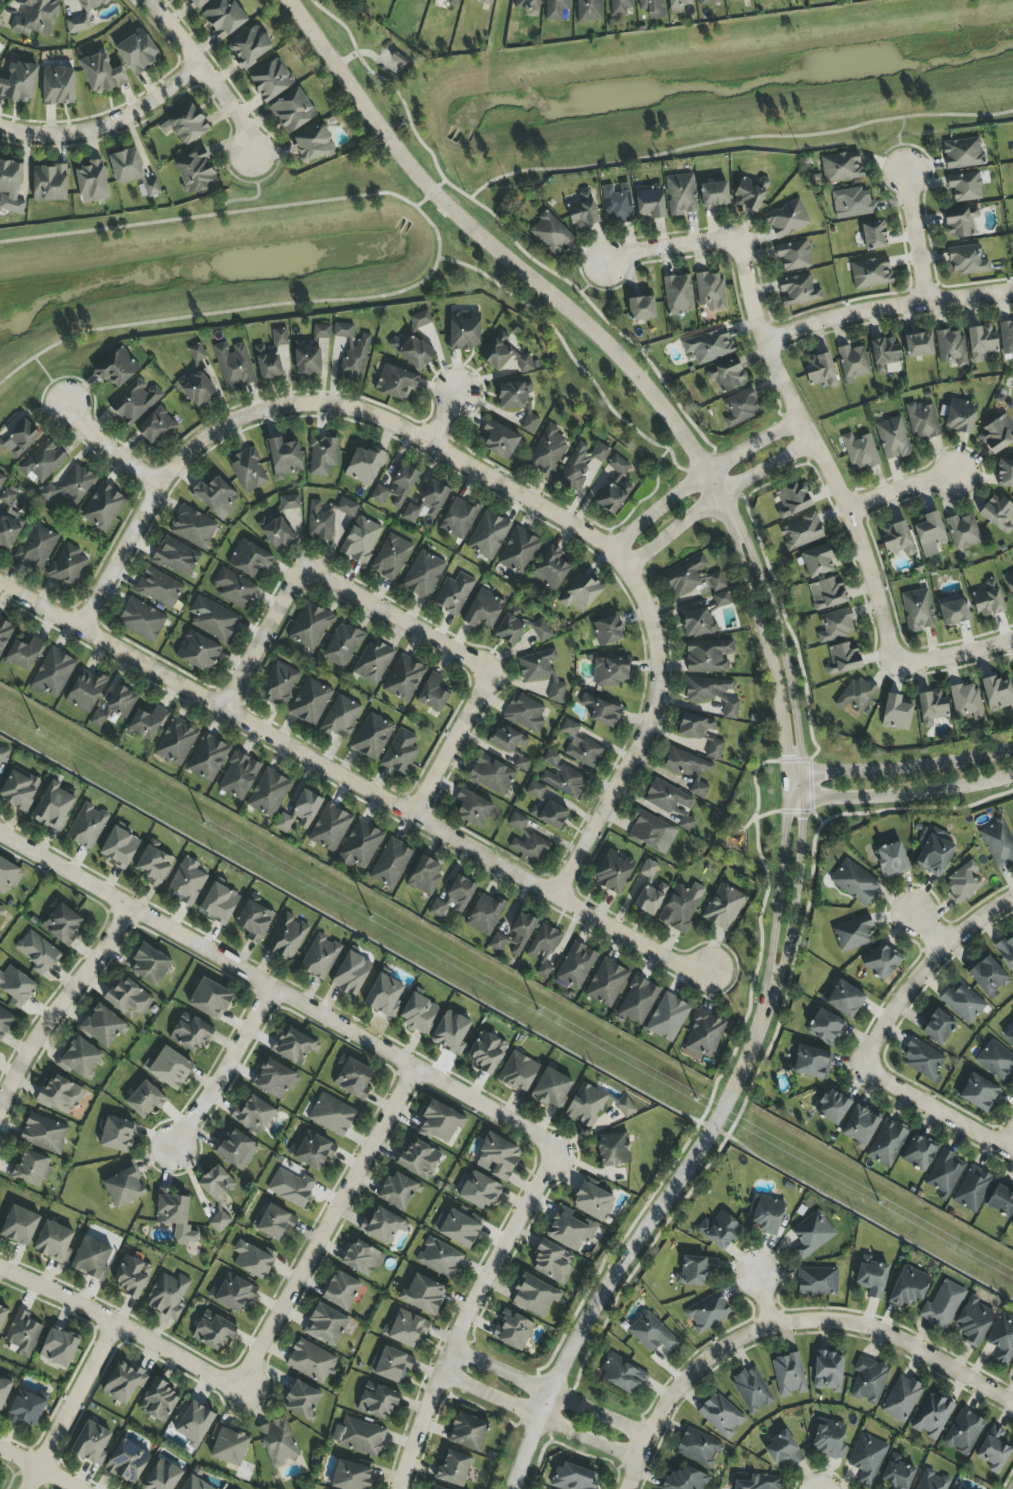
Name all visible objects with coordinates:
building: (731, 0)
building: (452, 1)
building: (485, 1)
building: (708, 2)
building: (196, 3)
building: (678, 5)
building: (528, 7)
building: (619, 8)
building: (652, 8)
building: (556, 9)
building: (589, 10)
building: (83, 16)
building: (35, 17)
building: (223, 18)
building: (249, 47)
building: (137, 52)
road: (367, 54)
road: (208, 72)
building: (101, 74)
building: (270, 80)
building: (18, 83)
building: (58, 86)
building: (292, 111)
road: (108, 123)
building: (185, 125)
road: (736, 139)
road: (897, 143)
building: (312, 144)
building: (963, 153)
building: (125, 166)
building: (841, 167)
building: (195, 173)
building: (91, 182)
building: (49, 183)
building: (11, 184)
building: (965, 187)
building: (151, 188)
road: (429, 194)
building: (681, 194)
building: (714, 194)
building: (748, 195)
road: (255, 198)
building: (650, 202)
building: (852, 203)
building: (617, 206)
building: (583, 211)
road: (208, 215)
building: (787, 219)
building: (959, 222)
building: (550, 233)
road: (913, 233)
building: (873, 235)
road: (508, 238)
road: (667, 248)
building: (793, 256)
building: (966, 260)
road: (510, 262)
building: (870, 273)
road: (590, 278)
building: (798, 290)
building: (710, 291)
building: (678, 294)
road: (887, 306)
building: (641, 308)
road: (248, 309)
building: (420, 319)
building: (464, 330)
building: (321, 331)
building: (1006, 337)
building: (980, 342)
building: (918, 345)
building: (709, 346)
building: (951, 347)
building: (352, 351)
building: (412, 351)
building: (497, 351)
building: (196, 352)
building: (884, 354)
building: (307, 357)
building: (524, 363)
road: (573, 363)
building: (852, 363)
building: (234, 365)
building: (116, 368)
building: (820, 370)
building: (727, 375)
road: (49, 379)
building: (395, 382)
building: (196, 388)
building: (513, 395)
building: (134, 401)
building: (740, 407)
building: (959, 416)
road: (443, 418)
building: (922, 421)
building: (529, 423)
building: (156, 427)
building: (997, 434)
road: (211, 436)
building: (892, 438)
building: (20, 439)
building: (498, 440)
road: (106, 450)
building: (547, 450)
road: (816, 452)
building: (860, 452)
building: (322, 455)
building: (284, 458)
building: (43, 462)
building: (581, 464)
building: (364, 465)
building: (248, 470)
building: (1004, 473)
road: (699, 479)
building: (1, 480)
building: (69, 486)
building: (614, 487)
building: (396, 488)
road: (902, 492)
road: (521, 493)
building: (215, 497)
building: (792, 500)
road: (715, 501)
building: (427, 503)
building: (103, 507)
building: (347, 507)
building: (997, 513)
building: (458, 518)
building: (8, 519)
building: (320, 522)
building: (279, 524)
building: (192, 527)
building: (962, 531)
building: (801, 532)
building: (929, 534)
building: (488, 535)
building: (897, 539)
building: (360, 540)
building: (36, 547)
building: (518, 552)
building: (175, 557)
building: (391, 557)
building: (248, 558)
building: (817, 561)
building: (67, 566)
building: (550, 569)
building: (423, 575)
building: (686, 577)
building: (716, 581)
building: (1009, 582)
building: (158, 588)
building: (234, 588)
building: (580, 593)
building: (827, 593)
building: (454, 594)
building: (721, 599)
building: (988, 599)
building: (483, 610)
building: (917, 610)
building: (953, 612)
building: (213, 618)
road: (396, 618)
building: (141, 620)
building: (697, 622)
building: (835, 625)
building: (309, 626)
building: (519, 627)
building: (607, 631)
building: (5, 633)
road: (261, 636)
building: (342, 645)
building: (198, 651)
building: (24, 653)
road: (954, 655)
building: (707, 656)
building: (843, 659)
building: (373, 662)
building: (1012, 671)
building: (541, 672)
building: (610, 672)
building: (52, 674)
building: (403, 679)
building: (279, 684)
building: (706, 689)
building: (85, 690)
building: (432, 693)
building: (996, 693)
road: (804, 695)
building: (856, 695)
building: (966, 701)
building: (310, 702)
building: (115, 706)
building: (931, 707)
building: (730, 709)
building: (601, 710)
building: (525, 712)
building: (895, 713)
building: (340, 717)
building: (146, 723)
building: (694, 726)
road: (644, 728)
building: (372, 736)
building: (506, 739)
building: (176, 741)
road: (452, 743)
building: (579, 746)
building: (714, 749)
building: (400, 753)
building: (3, 755)
road: (800, 755)
road: (786, 756)
building: (207, 758)
building: (551, 758)
building: (521, 763)
power tower: (98, 765)
road: (901, 768)
building: (688, 769)
building: (491, 774)
building: (239, 776)
building: (564, 781)
road: (353, 782)
building: (18, 789)
building: (268, 793)
road: (901, 795)
building: (666, 797)
building: (53, 806)
building: (472, 808)
building: (545, 808)
building: (300, 812)
road: (808, 812)
building: (686, 824)
building: (87, 826)
building: (330, 828)
building: (651, 832)
building: (527, 840)
building: (998, 843)
building: (359, 846)
building: (119, 847)
building: (933, 854)
building: (891, 860)
building: (390, 863)
building: (153, 866)
building: (648, 869)
building: (612, 873)
building: (9, 875)
building: (425, 875)
building: (187, 882)
building: (963, 882)
building: (855, 883)
building: (650, 898)
building: (453, 899)
building: (218, 904)
building: (681, 907)
building: (723, 907)
building: (0, 908)
building: (485, 914)
road: (977, 918)
building: (254, 921)
building: (62, 924)
power tower: (392, 929)
road: (928, 930)
building: (852, 933)
building: (287, 938)
building: (497, 943)
building: (543, 949)
building: (37, 952)
building: (1006, 952)
building: (320, 957)
building: (881, 962)
building: (149, 964)
building: (576, 965)
building: (351, 973)
building: (987, 976)
building: (606, 983)
building: (16, 986)
road: (279, 991)
building: (384, 995)
building: (128, 999)
building: (210, 999)
building: (843, 999)
building: (637, 1001)
building: (963, 1001)
road: (57, 1007)
road: (903, 1009)
building: (418, 1013)
building: (668, 1017)
road: (506, 1018)
building: (4, 1022)
building: (102, 1026)
building: (936, 1026)
building: (825, 1027)
building: (191, 1033)
building: (451, 1033)
building: (705, 1033)
building: (1009, 1037)
building: (294, 1046)
building: (486, 1052)
building: (80, 1058)
building: (922, 1060)
building: (996, 1061)
building: (810, 1062)
building: (169, 1068)
road: (229, 1070)
building: (518, 1072)
building: (354, 1078)
building: (274, 1079)
building: (551, 1088)
building: (978, 1093)
power tower: (684, 1094)
building: (61, 1095)
building: (144, 1099)
building: (585, 1105)
building: (832, 1106)
building: (625, 1107)
road: (936, 1112)
building: (254, 1115)
building: (331, 1115)
road: (697, 1120)
building: (440, 1122)
building: (860, 1124)
building: (44, 1133)
building: (117, 1134)
building: (887, 1143)
building: (236, 1149)
road: (1011, 1149)
building: (613, 1150)
building: (312, 1151)
building: (919, 1152)
building: (499, 1157)
building: (419, 1159)
building: (31, 1169)
building: (944, 1173)
building: (216, 1183)
building: (291, 1184)
building: (124, 1185)
building: (972, 1189)
building: (397, 1191)
building: (480, 1191)
building: (1001, 1201)
building: (593, 1202)
building: (768, 1215)
building: (176, 1216)
building: (219, 1221)
building: (273, 1223)
building: (19, 1225)
road: (327, 1225)
building: (383, 1226)
building: (457, 1228)
building: (1012, 1228)
building: (570, 1229)
building: (719, 1230)
building: (811, 1234)
road: (637, 1240)
building: (54, 1242)
building: (362, 1258)
building: (439, 1258)
building: (91, 1259)
building: (253, 1259)
power tower: (979, 1260)
building: (552, 1262)
building: (694, 1270)
building: (131, 1276)
building: (817, 1281)
building: (908, 1287)
building: (341, 1290)
building: (234, 1293)
building: (167, 1295)
building: (423, 1295)
building: (534, 1296)
road: (763, 1299)
building: (943, 1306)
building: (707, 1313)
building: (2, 1315)
road: (465, 1317)
building: (973, 1321)
building: (325, 1325)
road: (118, 1327)
building: (407, 1329)
building: (213, 1331)
building: (513, 1331)
building: (651, 1334)
building: (21, 1335)
building: (1002, 1339)
road: (899, 1340)
building: (59, 1347)
building: (311, 1361)
building: (391, 1365)
building: (1012, 1367)
building: (827, 1371)
building: (622, 1375)
building: (788, 1375)
building: (869, 1381)
building: (123, 1383)
road: (678, 1388)
building: (752, 1390)
building: (4, 1391)
road: (548, 1392)
building: (901, 1399)
building: (301, 1400)
building: (158, 1401)
building: (376, 1401)
road: (70, 1407)
building: (26, 1409)
road: (538, 1415)
building: (721, 1415)
building: (932, 1416)
building: (192, 1422)
building: (468, 1431)
building: (963, 1432)
building: (359, 1436)
building: (829, 1439)
building: (278, 1442)
building: (91, 1443)
building: (228, 1446)
building: (699, 1447)
building: (782, 1450)
building: (993, 1450)
building: (867, 1458)
road: (18, 1459)
building: (127, 1462)
building: (453, 1469)
building: (897, 1473)
building: (350, 1475)
building: (163, 1476)
building: (573, 1477)
road: (57, 1478)
building: (684, 1480)
building: (932, 1481)
building: (755, 1482)
building: (195, 1484)
building: (435, 1488)
building: (959, 1488)

